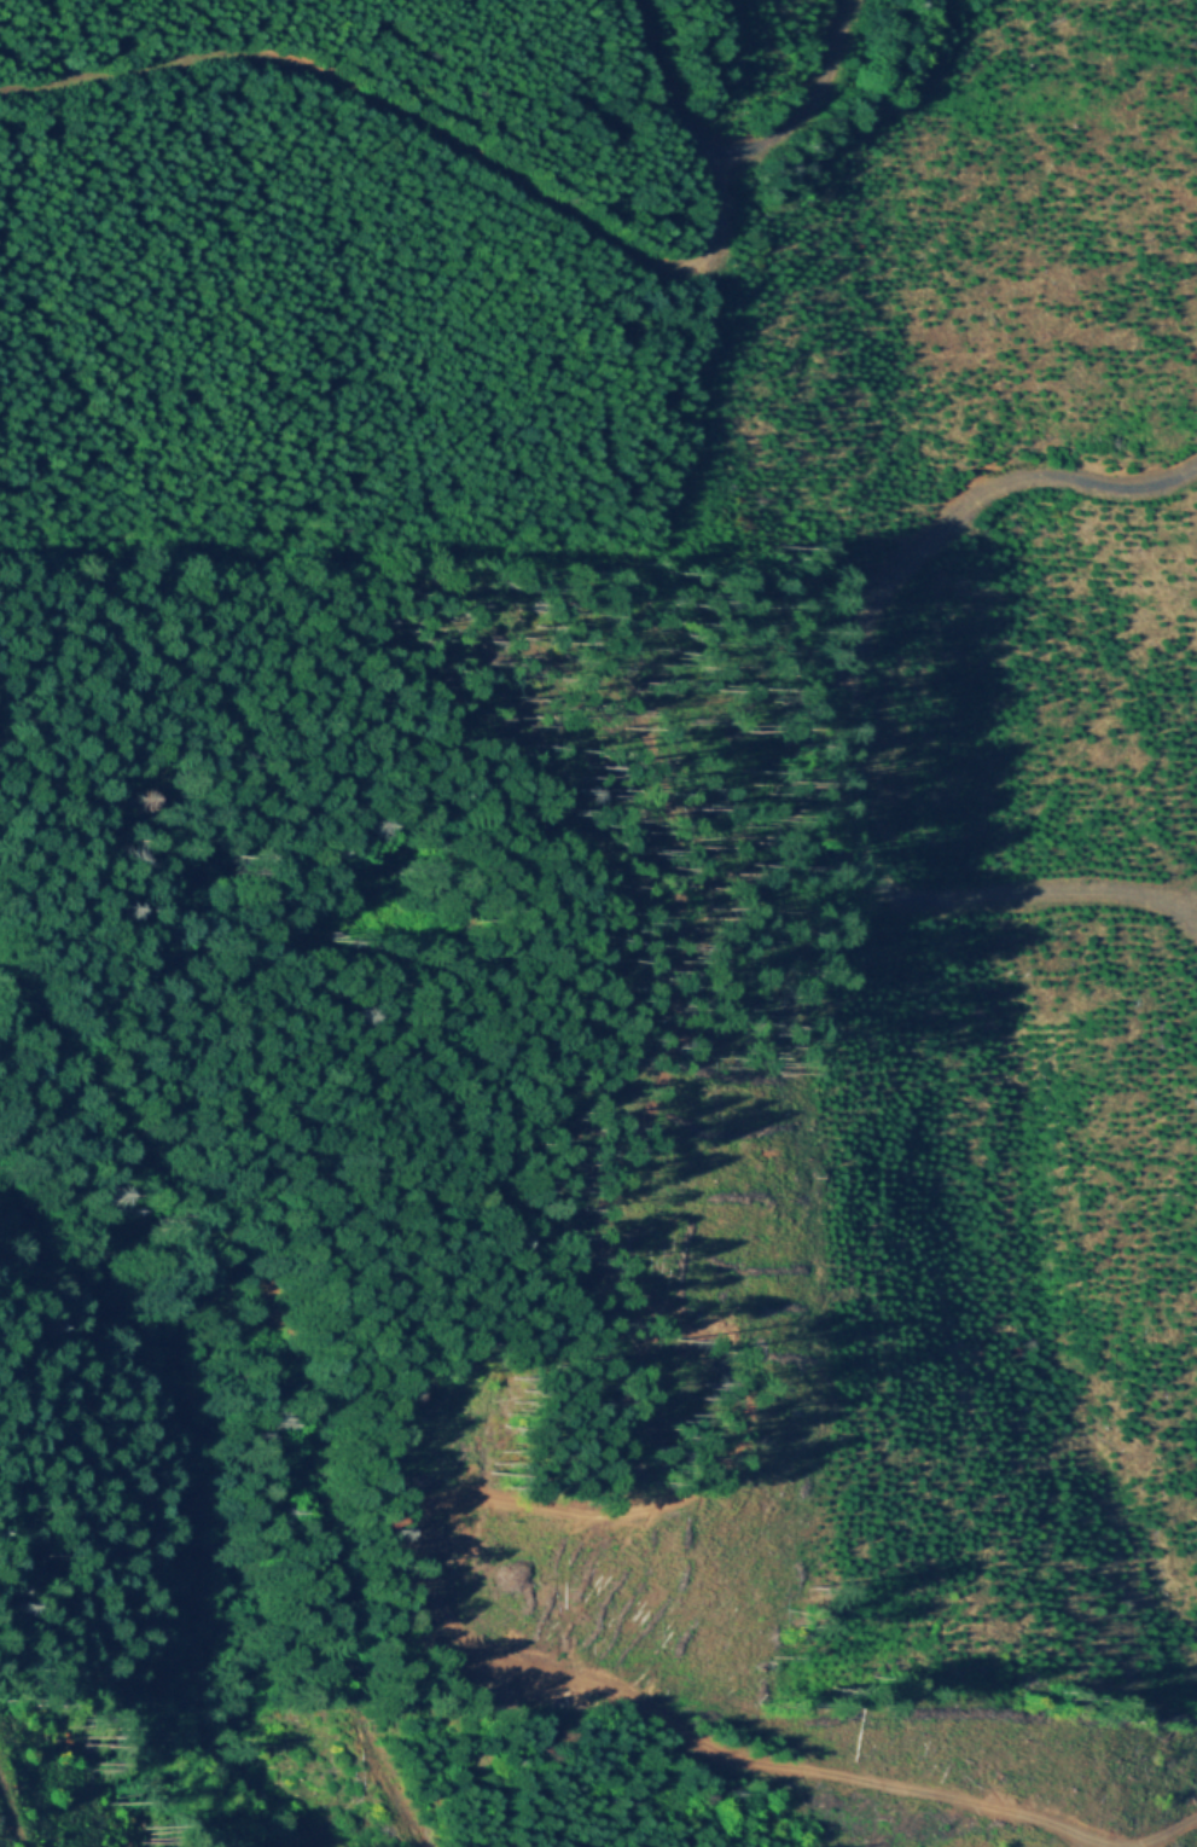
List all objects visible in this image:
road: (422, 128)
road: (738, 151)
road: (820, 727)
road: (287, 1370)
road: (12, 1807)

